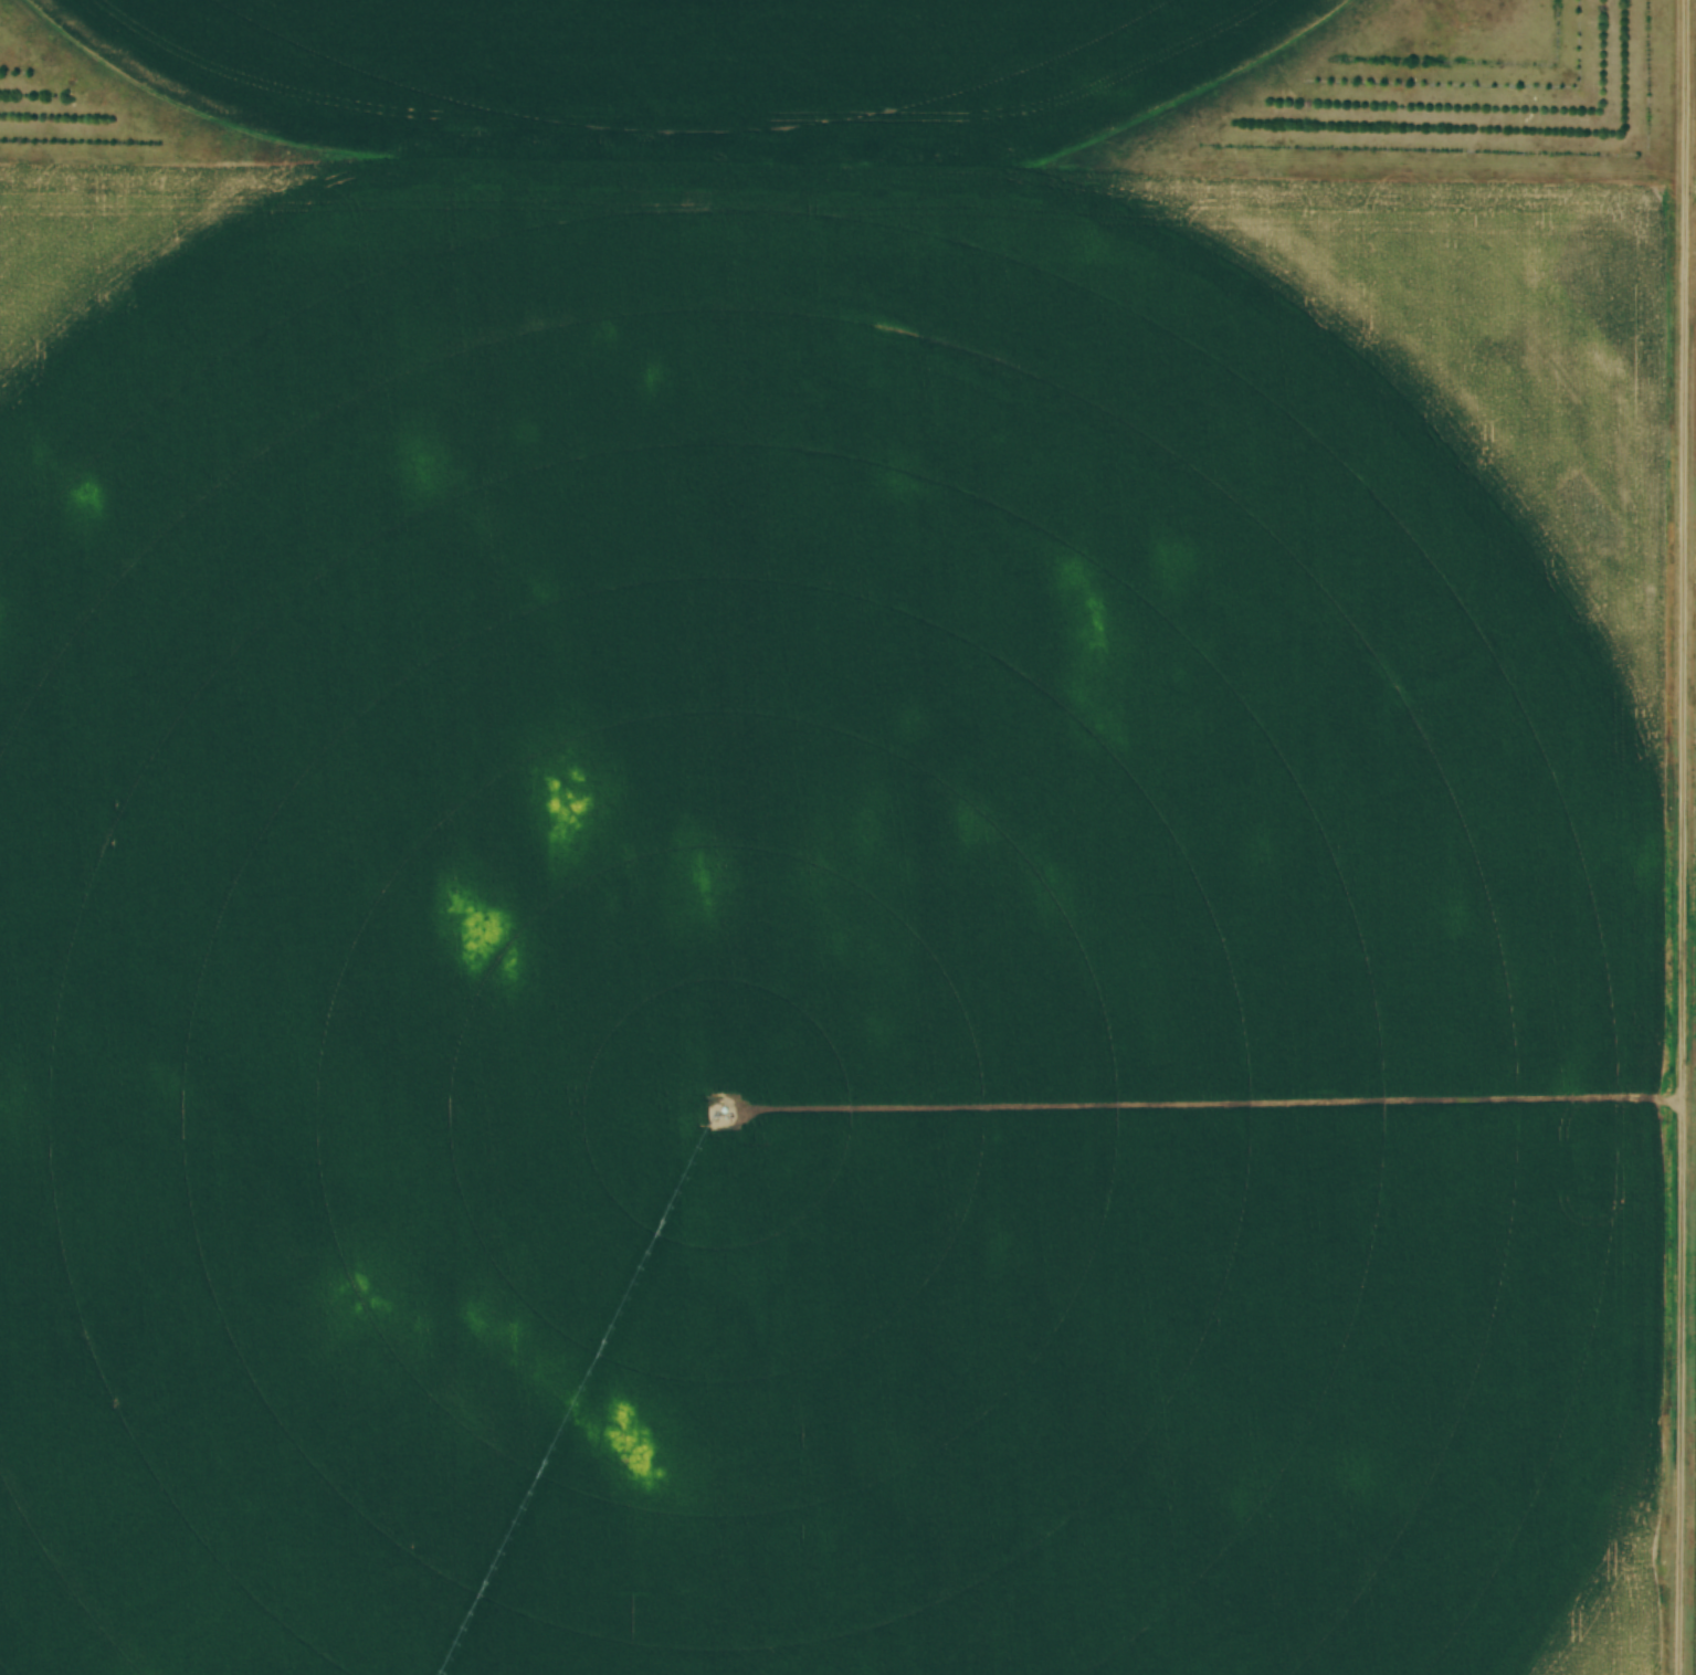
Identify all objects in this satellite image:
road: (1681, 837)

